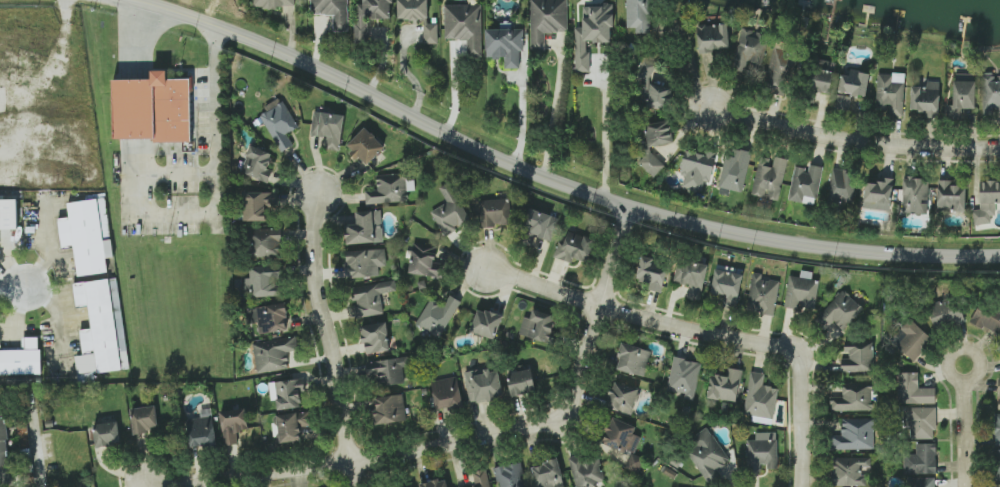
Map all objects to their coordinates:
road: (131, 2)
road: (142, 2)
building: (273, 3)
building: (413, 9)
building: (333, 12)
building: (639, 15)
building: (370, 17)
building: (547, 21)
building: (465, 26)
building: (592, 32)
building: (713, 37)
building: (505, 45)
building: (750, 49)
building: (780, 68)
building: (645, 71)
building: (821, 81)
building: (852, 88)
road: (456, 90)
building: (891, 92)
building: (991, 95)
building: (660, 96)
building: (962, 98)
building: (926, 99)
building: (152, 109)
road: (522, 120)
building: (280, 124)
building: (329, 128)
road: (607, 131)
building: (659, 133)
road: (217, 140)
road: (852, 141)
building: (365, 145)
building: (651, 163)
building: (258, 164)
building: (699, 165)
building: (734, 172)
building: (770, 179)
road: (559, 184)
building: (805, 184)
building: (843, 186)
building: (390, 189)
building: (879, 195)
building: (915, 195)
building: (951, 195)
building: (987, 202)
building: (258, 204)
building: (450, 210)
building: (495, 212)
building: (8, 215)
building: (366, 228)
building: (540, 230)
building: (87, 236)
building: (266, 243)
building: (574, 247)
building: (426, 261)
building: (365, 262)
building: (652, 274)
building: (691, 277)
building: (266, 280)
building: (727, 283)
road: (13, 288)
building: (802, 291)
building: (763, 295)
building: (371, 297)
road: (55, 308)
building: (841, 311)
building: (946, 313)
building: (438, 315)
building: (269, 317)
building: (987, 317)
road: (635, 322)
building: (486, 323)
building: (541, 326)
building: (100, 330)
building: (376, 337)
road: (325, 339)
building: (912, 339)
building: (273, 353)
building: (858, 357)
building: (21, 359)
building: (633, 359)
building: (387, 371)
building: (684, 377)
building: (521, 382)
building: (725, 386)
building: (484, 387)
building: (913, 390)
building: (447, 392)
building: (287, 393)
building: (998, 393)
building: (622, 397)
building: (854, 398)
building: (760, 399)
building: (390, 409)
building: (144, 419)
road: (799, 419)
building: (921, 422)
building: (233, 425)
road: (964, 425)
building: (290, 426)
building: (997, 429)
building: (200, 432)
building: (107, 434)
building: (855, 435)
building: (624, 441)
building: (4, 442)
road: (477, 443)
building: (762, 451)
building: (707, 453)
building: (921, 459)
building: (587, 470)
building: (850, 471)
building: (548, 474)
building: (511, 475)
building: (482, 478)
building: (922, 482)
building: (410, 486)

